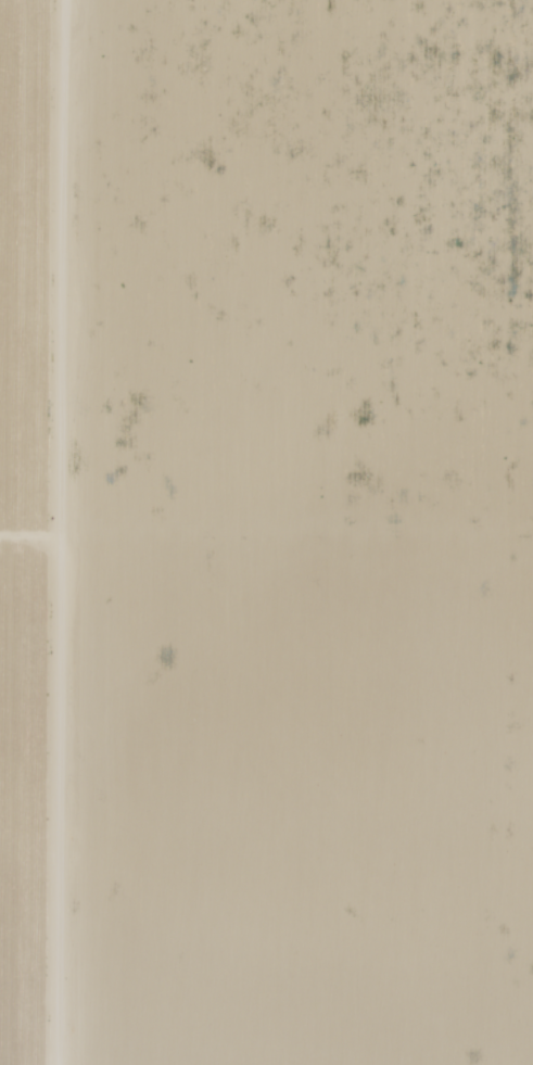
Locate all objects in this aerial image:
crop: (288, 531)
crop: (22, 540)

